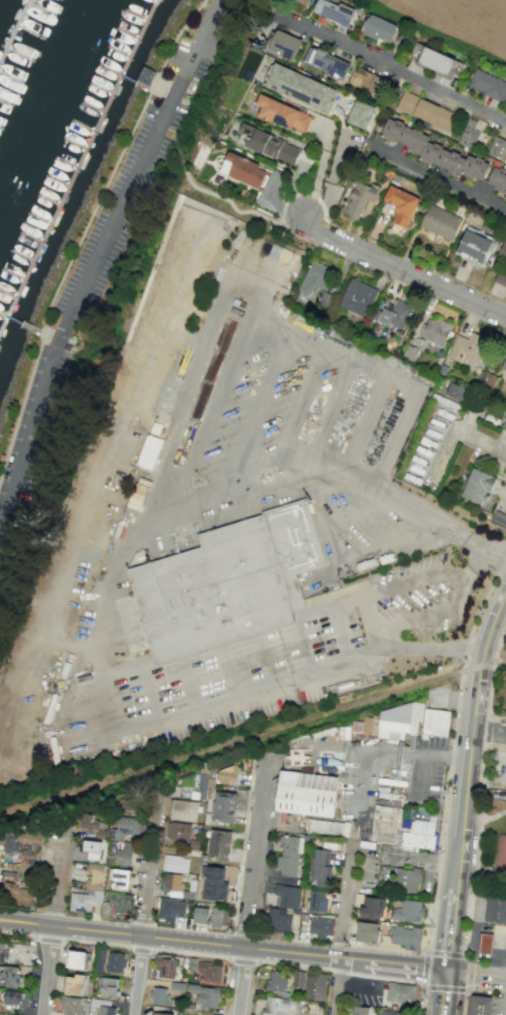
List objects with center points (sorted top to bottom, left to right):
building: (304, 1)
building: (334, 11)
building: (378, 28)
pier: (16, 32)
pier: (142, 37)
building: (282, 44)
building: (436, 61)
building: (326, 62)
road: (393, 67)
building: (368, 82)
building: (488, 85)
building: (300, 87)
building: (424, 110)
building: (359, 113)
building: (282, 114)
building: (468, 133)
building: (268, 144)
building: (497, 147)
building: (431, 149)
building: (243, 170)
road: (318, 173)
road: (439, 176)
building: (497, 178)
pier: (67, 191)
building: (358, 199)
building: (505, 199)
building: (400, 205)
road: (239, 212)
building: (439, 222)
road: (85, 226)
building: (473, 246)
building: (502, 251)
road: (99, 255)
parking lot: (100, 259)
road: (404, 272)
building: (313, 280)
building: (357, 297)
building: (394, 313)
pier: (21, 322)
building: (435, 330)
building: (467, 348)
building: (503, 364)
building: (455, 391)
road: (468, 420)
building: (504, 422)
road: (458, 431)
building: (148, 451)
parking lot: (493, 464)
road: (288, 482)
building: (476, 485)
building: (498, 517)
road: (433, 520)
road: (497, 558)
road: (471, 569)
building: (234, 575)
road: (406, 584)
road: (370, 623)
road: (369, 653)
road: (490, 675)
building: (399, 720)
building: (435, 721)
road: (487, 730)
road: (468, 733)
road: (487, 734)
railway: (253, 736)
road: (451, 746)
road: (426, 755)
parking lot: (427, 771)
building: (229, 774)
building: (201, 785)
building: (307, 794)
road: (361, 796)
building: (223, 806)
building: (183, 810)
road: (483, 820)
building: (88, 822)
building: (327, 827)
building: (124, 828)
building: (178, 830)
building: (419, 834)
building: (29, 836)
road: (478, 841)
building: (11, 843)
building: (220, 844)
building: (92, 849)
building: (29, 851)
park: (494, 852)
building: (125, 854)
park: (499, 855)
building: (289, 856)
building: (175, 863)
road: (483, 866)
building: (320, 867)
road: (149, 874)
building: (408, 875)
building: (120, 878)
building: (172, 881)
building: (212, 882)
road: (252, 889)
building: (89, 890)
building: (17, 894)
building: (287, 896)
building: (318, 900)
building: (371, 906)
building: (495, 908)
building: (170, 909)
building: (408, 910)
building: (200, 914)
building: (219, 916)
building: (278, 920)
road: (54, 925)
building: (320, 926)
road: (449, 926)
road: (344, 929)
building: (367, 930)
road: (17, 933)
building: (405, 935)
road: (48, 938)
building: (485, 941)
road: (96, 942)
road: (223, 945)
road: (140, 950)
building: (1, 951)
building: (19, 952)
road: (189, 952)
building: (76, 959)
road: (466, 959)
road: (242, 960)
road: (424, 960)
building: (115, 962)
building: (192, 963)
building: (165, 967)
traffic signals: (448, 969)
building: (209, 970)
road: (476, 973)
road: (354, 974)
building: (10, 975)
road: (137, 975)
building: (297, 978)
building: (276, 981)
building: (73, 984)
road: (466, 985)
building: (315, 986)
building: (108, 987)
road: (485, 988)
building: (400, 991)
road: (445, 992)
building: (205, 995)
building: (160, 996)
building: (15, 998)
road: (463, 1002)
road: (504, 1002)
building: (70, 1005)
building: (278, 1005)
building: (480, 1005)
parking lot: (498, 1005)
building: (107, 1010)
building: (359, 1010)
building: (392, 1012)
building: (162, 1013)
building: (3, 1014)

